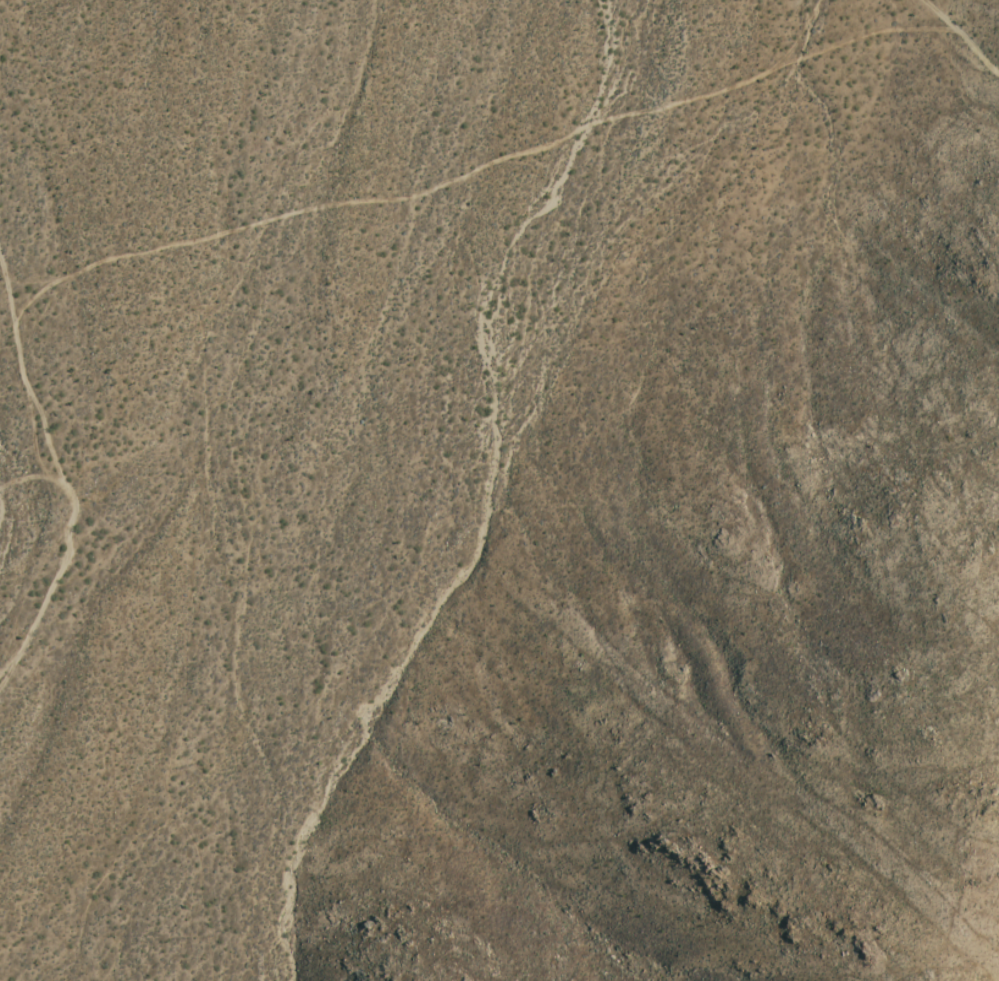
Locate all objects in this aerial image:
road: (972, 21)

